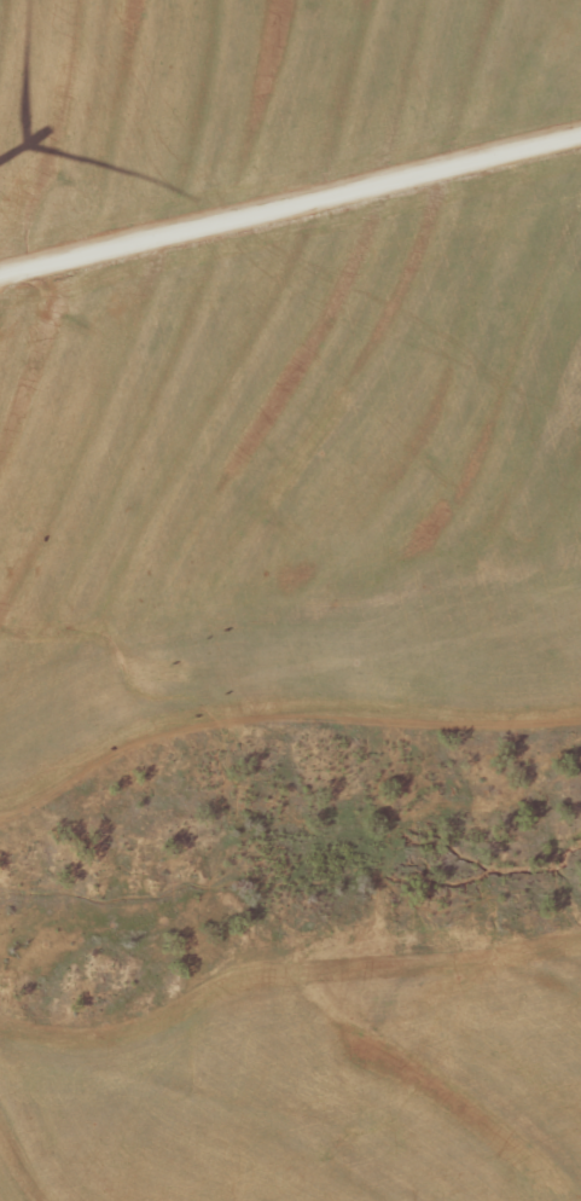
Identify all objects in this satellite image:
road: (289, 203)
road: (75, 271)
road: (290, 642)

